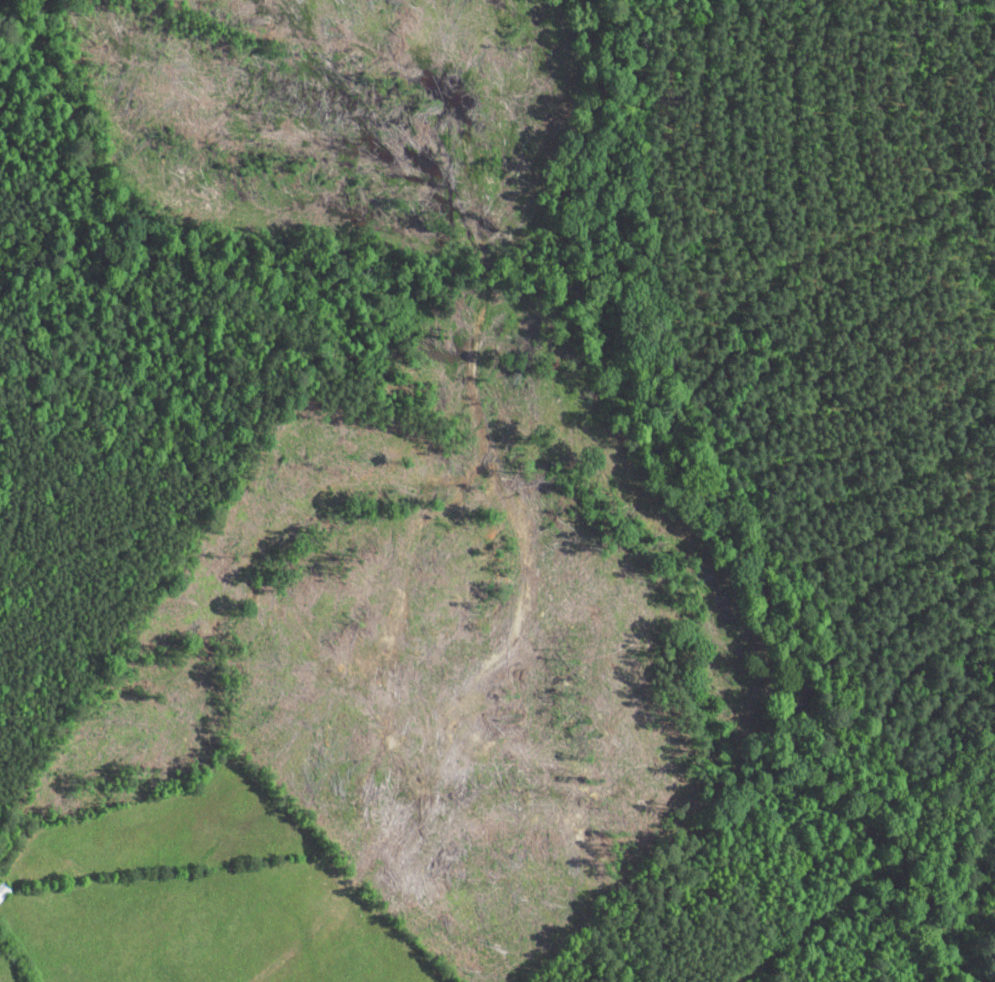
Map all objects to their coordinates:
building: (3, 892)

